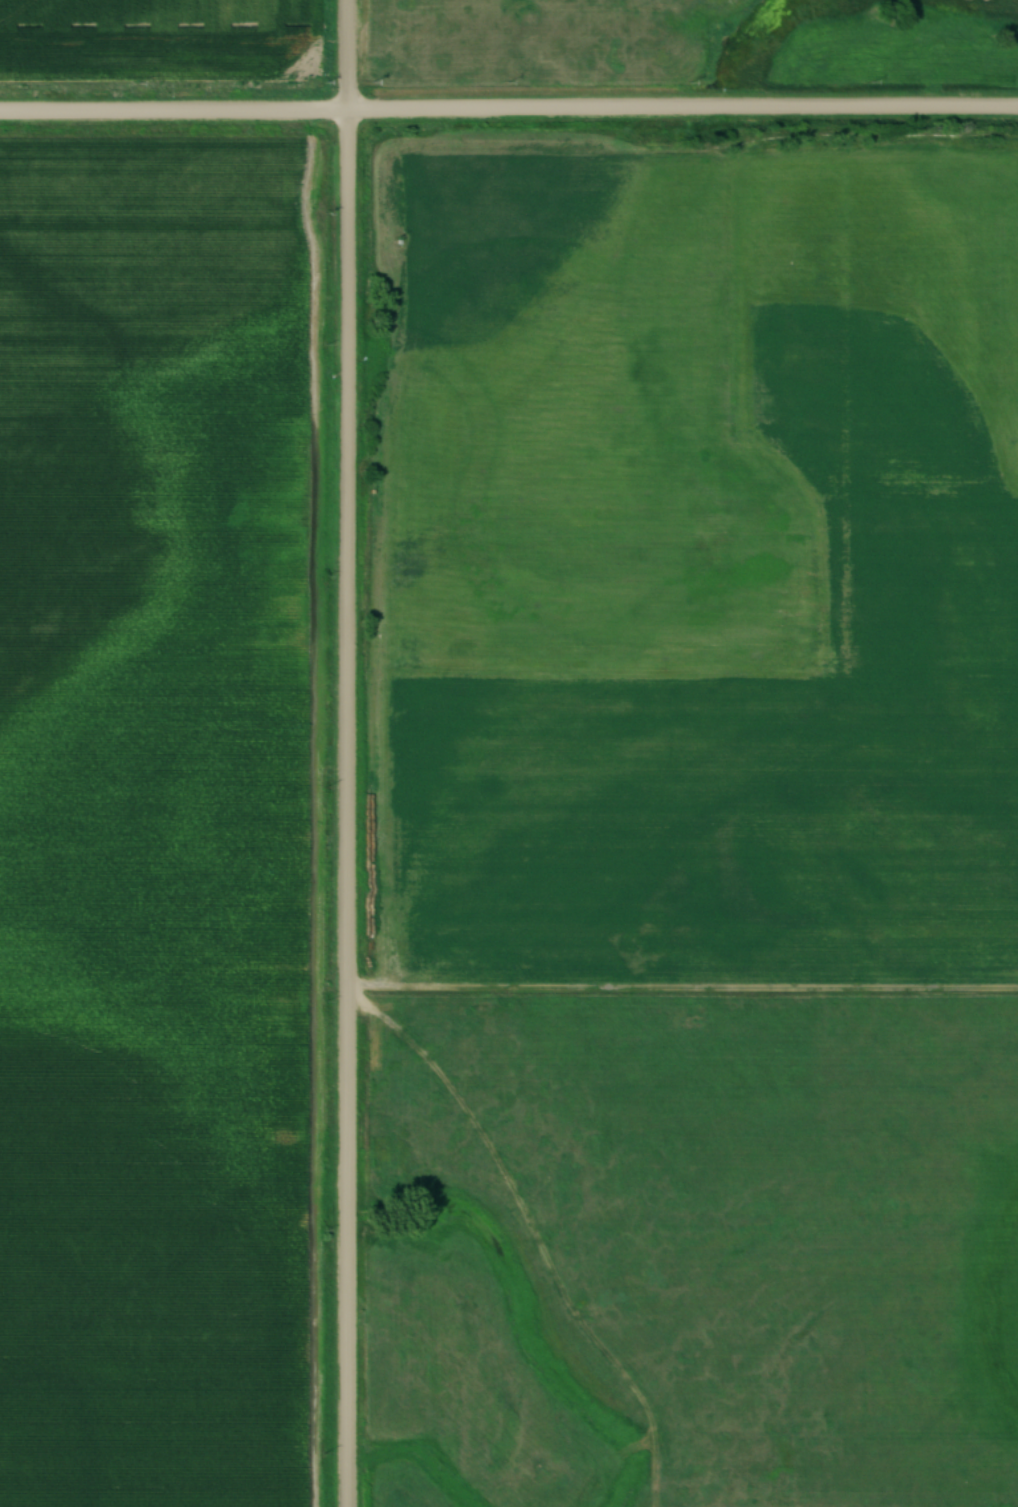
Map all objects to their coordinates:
road: (508, 112)
road: (340, 753)

